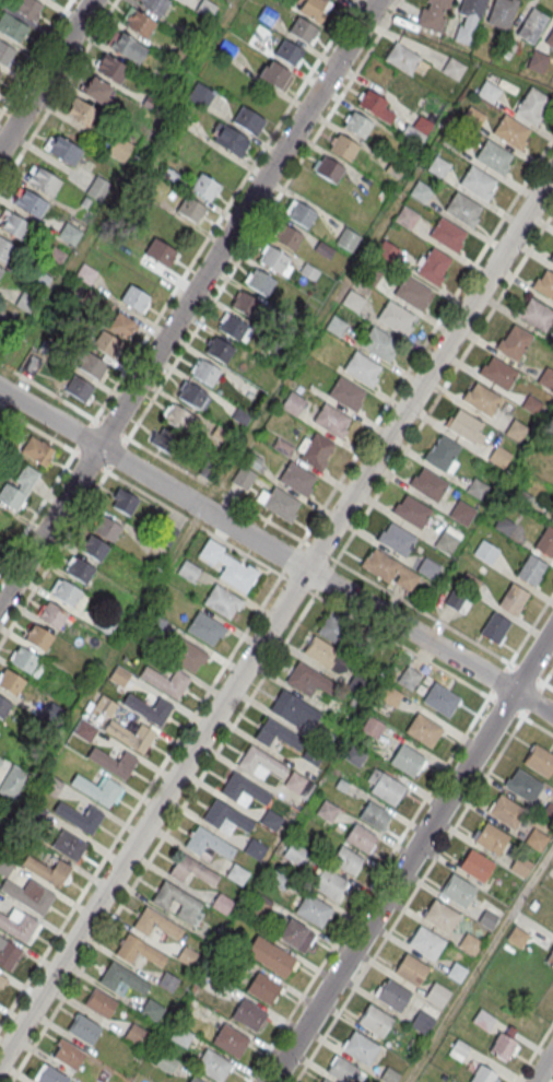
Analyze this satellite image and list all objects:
building: (155, 5)
road: (358, 5)
building: (26, 8)
building: (311, 9)
building: (502, 13)
building: (433, 15)
building: (469, 21)
building: (141, 25)
building: (532, 26)
building: (12, 28)
building: (303, 31)
building: (550, 42)
building: (506, 49)
building: (226, 50)
building: (132, 51)
building: (289, 54)
building: (5, 55)
road: (35, 57)
building: (402, 59)
building: (538, 62)
building: (454, 69)
building: (114, 71)
building: (0, 72)
building: (0, 73)
road: (46, 75)
building: (274, 75)
building: (97, 92)
building: (489, 93)
building: (200, 96)
building: (375, 107)
building: (532, 107)
building: (83, 114)
building: (473, 118)
building: (248, 121)
building: (358, 127)
building: (416, 131)
building: (511, 133)
building: (231, 140)
building: (454, 142)
building: (343, 149)
building: (119, 150)
building: (67, 153)
building: (494, 158)
building: (438, 168)
building: (330, 170)
building: (43, 181)
building: (478, 184)
building: (204, 188)
building: (97, 189)
building: (421, 192)
building: (33, 205)
road: (225, 209)
building: (191, 210)
building: (462, 210)
building: (302, 215)
building: (407, 219)
building: (14, 227)
building: (70, 235)
road: (254, 235)
building: (447, 236)
building: (287, 238)
building: (348, 240)
building: (323, 250)
building: (7, 251)
building: (387, 251)
building: (161, 254)
building: (551, 260)
building: (275, 262)
building: (434, 268)
building: (1, 272)
building: (309, 272)
building: (86, 274)
building: (369, 277)
building: (38, 281)
building: (259, 283)
building: (544, 286)
building: (412, 294)
building: (136, 299)
building: (25, 302)
road: (188, 302)
building: (353, 302)
building: (247, 306)
building: (536, 316)
building: (396, 318)
building: (119, 325)
building: (337, 327)
building: (234, 329)
road: (427, 340)
building: (106, 343)
building: (379, 344)
building: (514, 344)
building: (220, 351)
building: (91, 364)
building: (32, 365)
building: (363, 369)
building: (205, 374)
building: (498, 374)
building: (546, 379)
road: (445, 387)
building: (80, 388)
building: (346, 395)
building: (192, 397)
building: (481, 400)
road: (63, 401)
building: (293, 404)
building: (531, 405)
building: (239, 415)
building: (178, 419)
building: (331, 421)
building: (464, 428)
road: (37, 431)
building: (516, 432)
building: (163, 438)
building: (282, 446)
building: (38, 451)
building: (315, 451)
building: (443, 456)
building: (499, 458)
building: (252, 460)
building: (208, 469)
road: (107, 472)
building: (243, 479)
building: (297, 480)
building: (428, 485)
building: (19, 489)
road: (215, 490)
building: (476, 490)
building: (125, 503)
building: (278, 505)
road: (37, 511)
building: (411, 513)
building: (461, 514)
building: (552, 517)
building: (552, 519)
building: (503, 525)
building: (165, 528)
building: (107, 530)
building: (397, 540)
building: (447, 541)
building: (545, 543)
building: (95, 550)
road: (276, 551)
building: (485, 553)
building: (228, 568)
building: (427, 569)
building: (389, 571)
building: (81, 572)
building: (187, 572)
building: (530, 572)
building: (469, 583)
building: (67, 593)
building: (457, 600)
building: (513, 601)
building: (222, 602)
road: (275, 615)
building: (52, 616)
building: (105, 625)
building: (333, 627)
road: (531, 628)
building: (205, 630)
building: (494, 630)
building: (38, 638)
building: (326, 655)
building: (187, 656)
building: (26, 662)
road: (444, 671)
building: (119, 675)
building: (410, 675)
building: (308, 682)
building: (165, 683)
building: (11, 684)
building: (356, 686)
building: (390, 697)
building: (440, 702)
building: (105, 706)
building: (3, 708)
building: (149, 710)
building: (293, 710)
building: (373, 729)
building: (423, 732)
building: (276, 736)
building: (130, 737)
building: (311, 755)
building: (355, 757)
building: (0, 761)
building: (407, 762)
building: (539, 763)
building: (114, 764)
building: (260, 765)
building: (294, 783)
building: (12, 784)
building: (51, 787)
road: (195, 787)
building: (522, 787)
building: (97, 790)
building: (387, 790)
building: (243, 792)
road: (140, 800)
building: (327, 812)
building: (506, 813)
building: (80, 818)
building: (374, 818)
building: (225, 820)
building: (271, 821)
building: (360, 839)
building: (491, 840)
building: (536, 840)
building: (208, 843)
building: (69, 846)
building: (255, 850)
building: (295, 855)
road: (412, 855)
building: (346, 861)
building: (4, 867)
building: (520, 867)
building: (476, 868)
building: (191, 869)
building: (48, 871)
road: (379, 873)
building: (237, 875)
building: (278, 880)
road: (419, 884)
building: (329, 885)
building: (458, 892)
building: (30, 896)
building: (174, 896)
building: (222, 903)
building: (259, 910)
building: (313, 912)
building: (440, 918)
building: (487, 920)
building: (156, 925)
building: (17, 926)
building: (295, 937)
building: (517, 938)
building: (426, 944)
building: (470, 945)
building: (139, 952)
building: (8, 955)
building: (187, 956)
building: (270, 957)
building: (550, 960)
road: (480, 966)
building: (410, 972)
building: (456, 973)
building: (122, 979)
building: (167, 981)
building: (2, 983)
building: (262, 989)
building: (437, 996)
building: (391, 997)
building: (99, 1002)
building: (152, 1011)
building: (249, 1016)
building: (483, 1021)
building: (375, 1023)
building: (422, 1023)
building: (83, 1027)
building: (134, 1034)
building: (181, 1036)
building: (230, 1042)
building: (503, 1048)
building: (458, 1049)
building: (361, 1050)
building: (68, 1052)
road: (534, 1052)
building: (166, 1062)
road: (543, 1067)
building: (213, 1068)
building: (342, 1071)
building: (50, 1075)
building: (482, 1075)
building: (193, 1080)
building: (325, 1081)

